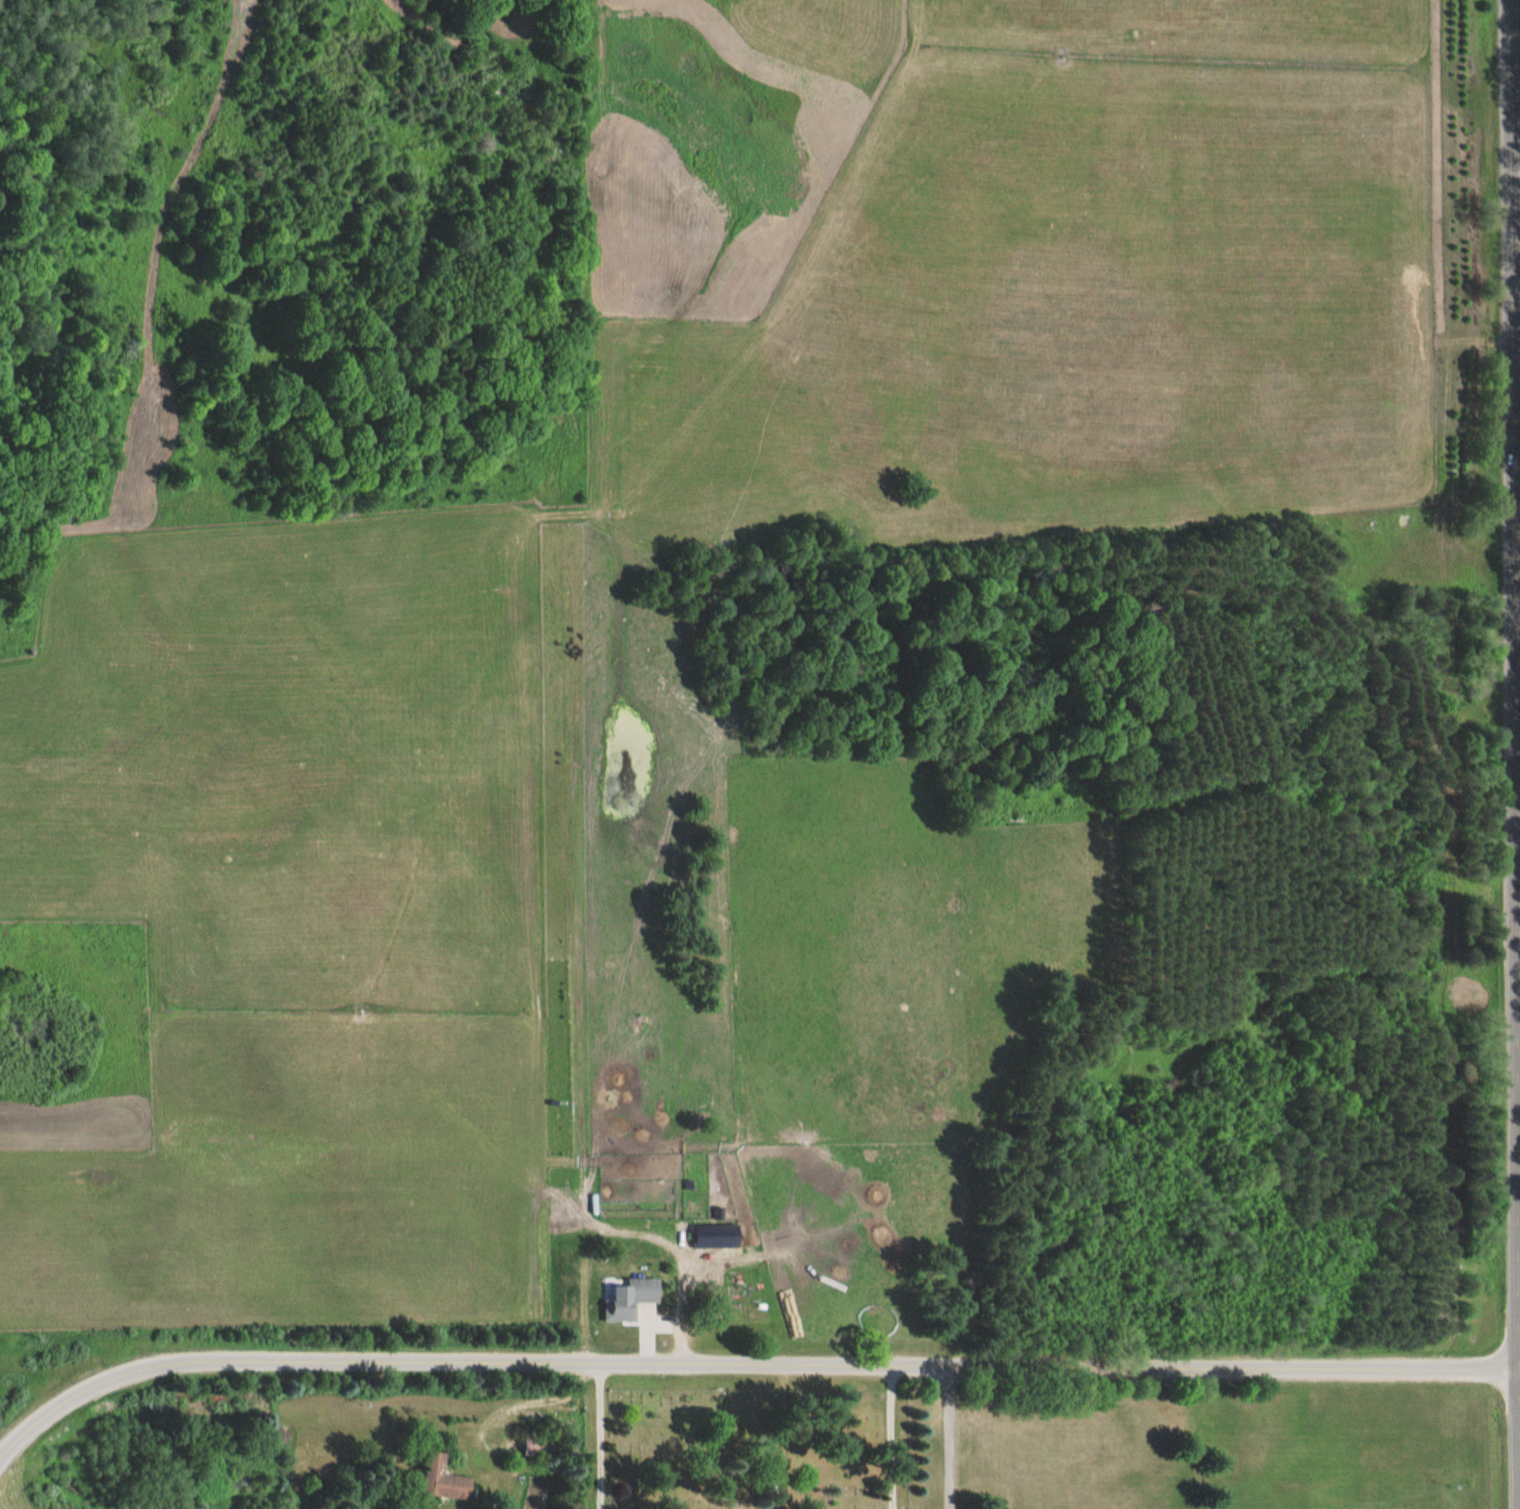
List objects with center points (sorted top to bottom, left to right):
road: (1515, 458)
building: (638, 1201)
building: (574, 1228)
building: (718, 1235)
building: (631, 1296)
road: (745, 1370)
road: (591, 1439)
road: (888, 1440)
park: (744, 1441)
building: (541, 1445)
building: (447, 1478)

